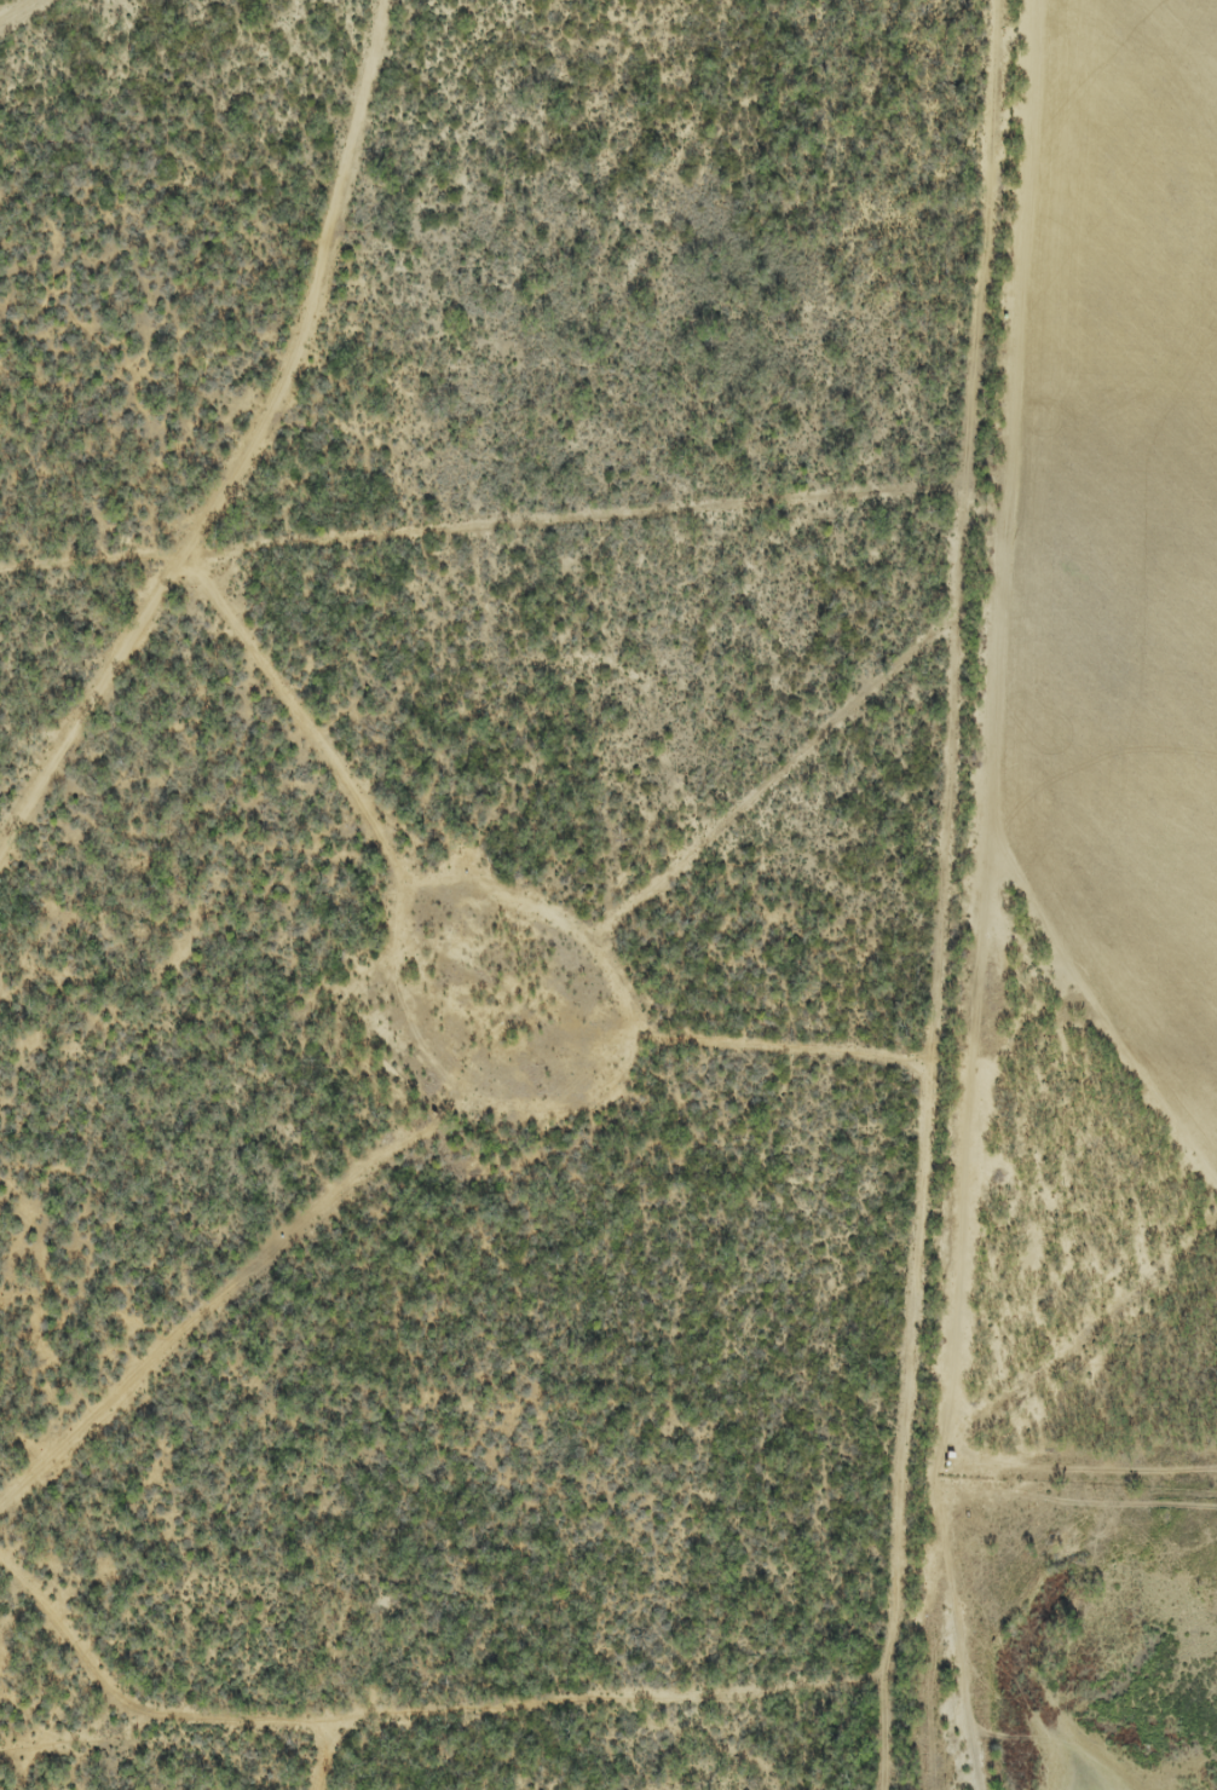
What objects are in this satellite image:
road: (252, 451)
road: (971, 895)

